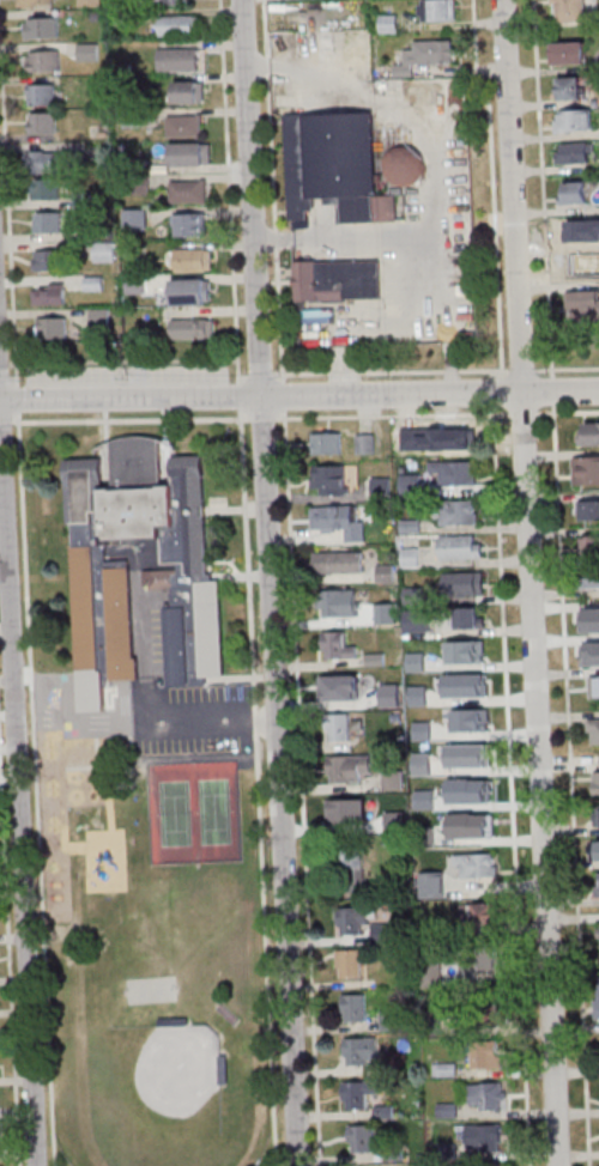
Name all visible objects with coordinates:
building: (177, 1)
building: (37, 2)
building: (91, 2)
building: (438, 10)
building: (569, 11)
building: (180, 24)
building: (389, 24)
building: (43, 28)
building: (89, 51)
building: (569, 53)
building: (428, 55)
building: (180, 59)
building: (44, 60)
building: (570, 87)
building: (190, 91)
building: (42, 93)
building: (571, 121)
building: (43, 122)
building: (186, 125)
building: (190, 153)
building: (575, 154)
building: (49, 162)
building: (334, 164)
building: (404, 164)
road: (229, 180)
road: (494, 187)
road: (541, 188)
building: (48, 189)
road: (274, 189)
building: (189, 190)
building: (575, 192)
road: (8, 200)
building: (137, 219)
building: (48, 221)
building: (190, 224)
building: (105, 251)
building: (193, 259)
building: (48, 260)
building: (581, 262)
building: (339, 279)
building: (190, 291)
building: (49, 293)
building: (582, 303)
building: (101, 317)
building: (52, 328)
building: (194, 329)
road: (123, 360)
road: (565, 366)
road: (391, 371)
road: (299, 396)
road: (567, 411)
road: (392, 415)
road: (131, 418)
building: (589, 432)
building: (460, 436)
building: (410, 442)
building: (327, 443)
building: (365, 443)
building: (586, 469)
building: (456, 473)
building: (328, 479)
building: (410, 484)
building: (588, 509)
building: (459, 514)
building: (337, 520)
building: (411, 527)
building: (589, 546)
building: (460, 548)
building: (338, 563)
building: (176, 575)
building: (592, 577)
road: (268, 583)
road: (531, 583)
building: (464, 584)
building: (334, 602)
building: (468, 618)
building: (416, 621)
building: (593, 645)
building: (337, 646)
building: (467, 651)
building: (594, 685)
building: (340, 688)
building: (389, 696)
building: (468, 716)
building: (434, 718)
building: (339, 729)
building: (593, 730)
building: (476, 753)
building: (350, 769)
building: (597, 782)
road: (18, 783)
road: (512, 785)
road: (571, 785)
road: (258, 787)
road: (302, 787)
road: (36, 789)
park: (193, 810)
building: (350, 810)
building: (595, 815)
building: (474, 816)
building: (594, 850)
building: (476, 867)
building: (352, 869)
building: (597, 885)
building: (431, 886)
building: (483, 915)
building: (352, 921)
building: (488, 959)
park: (153, 964)
building: (349, 964)
road: (8, 966)
park: (151, 989)
building: (353, 1008)
building: (359, 1051)
building: (486, 1055)
park: (181, 1063)
building: (358, 1094)
building: (486, 1097)
building: (0, 1136)
building: (483, 1137)
building: (362, 1140)

